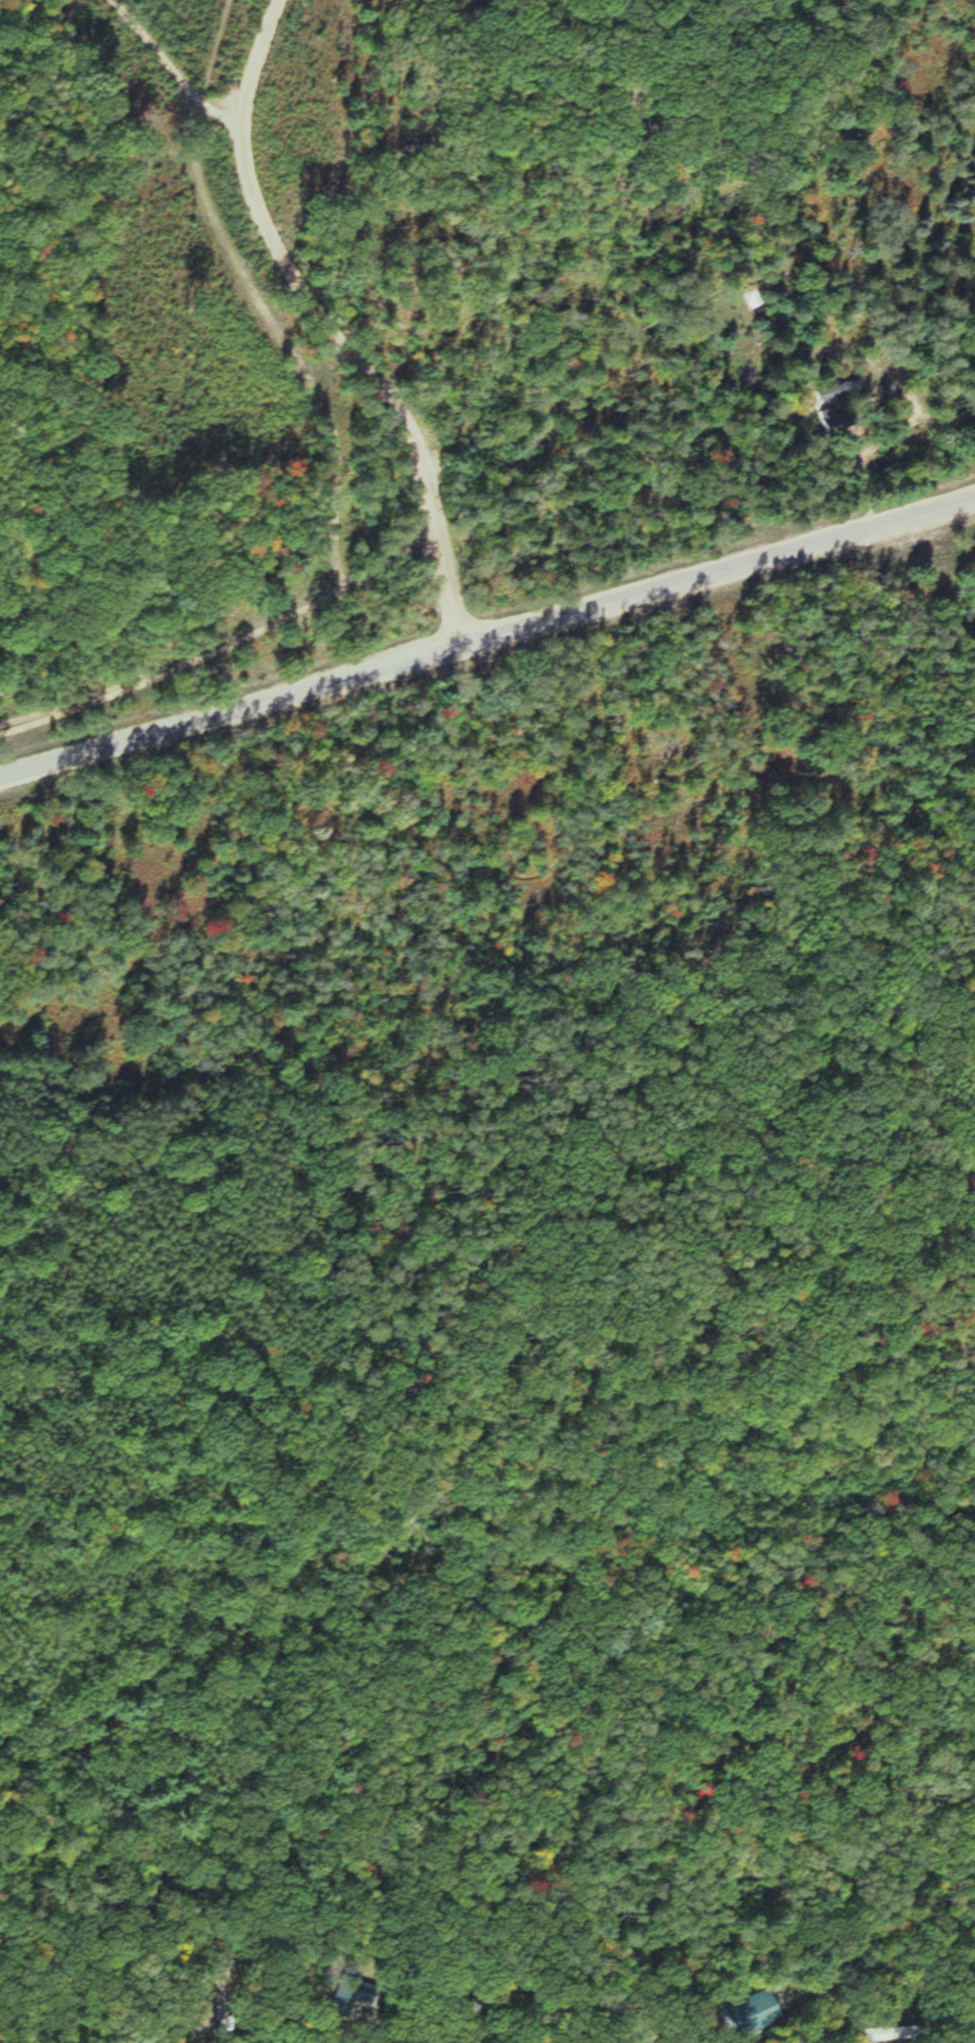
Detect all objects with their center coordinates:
road: (170, 72)
road: (324, 327)
building: (833, 391)
building: (835, 418)
road: (487, 640)
road: (224, 650)
building: (334, 2000)
building: (744, 2012)
building: (189, 2014)
building: (868, 2034)

